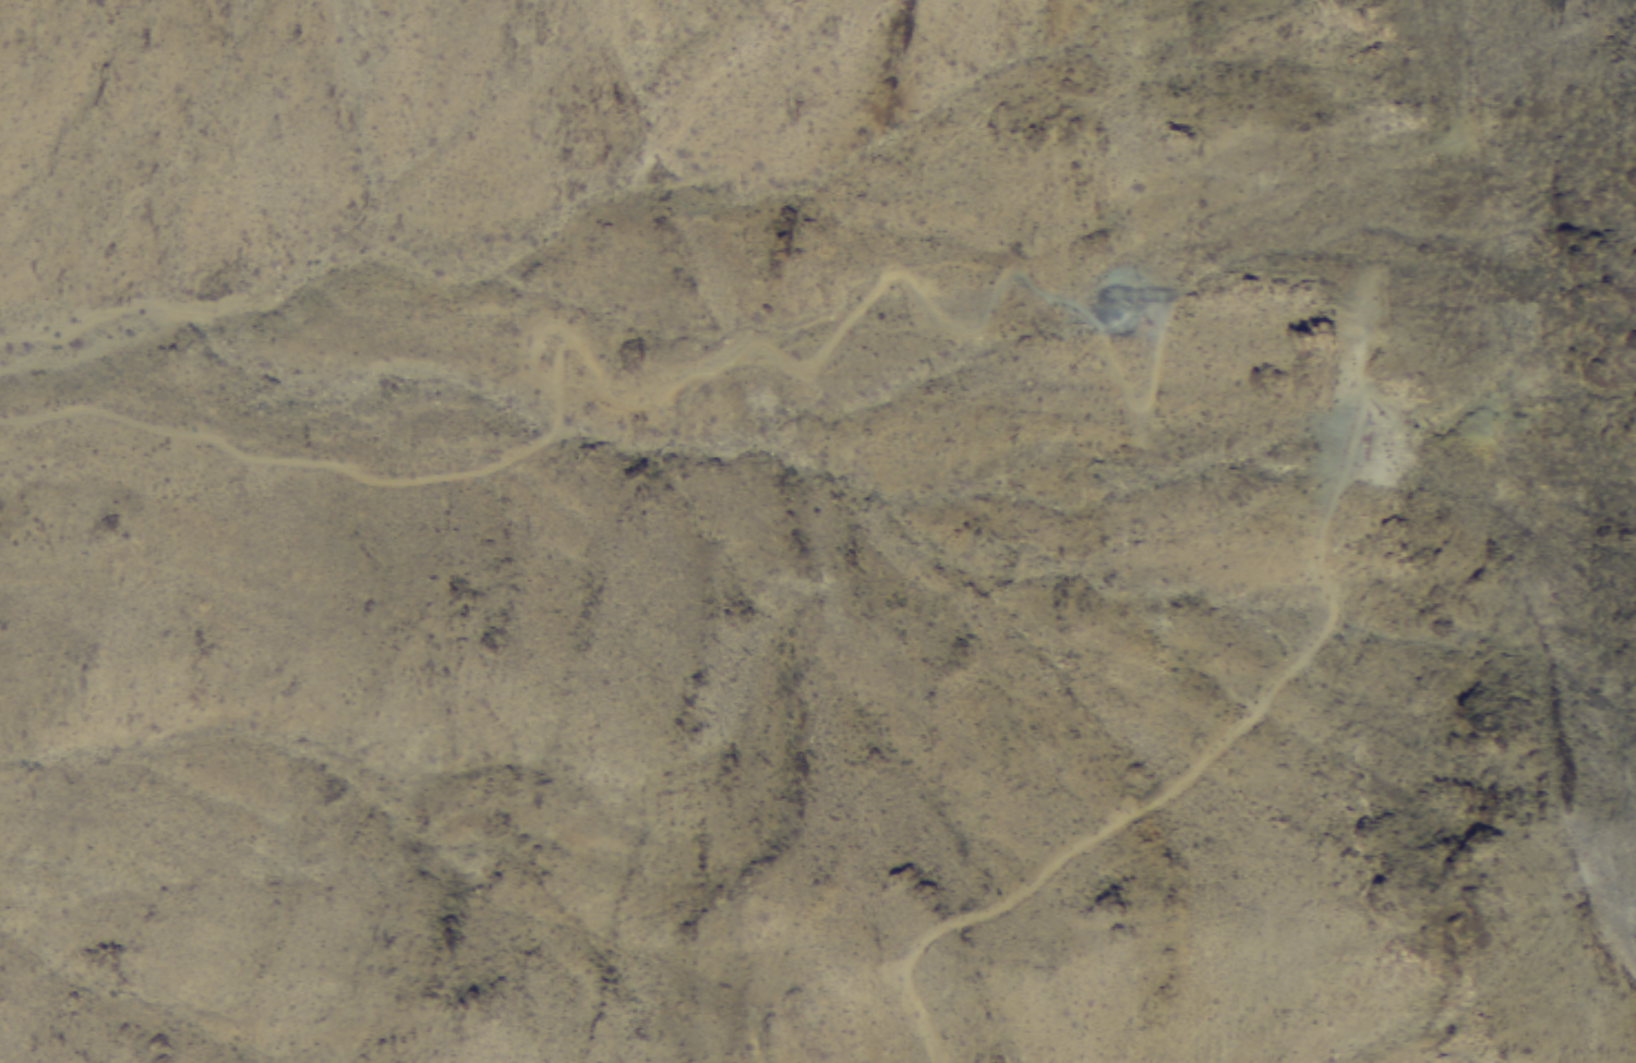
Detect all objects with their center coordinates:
road: (1470, 47)
road: (614, 390)
road: (1196, 749)

